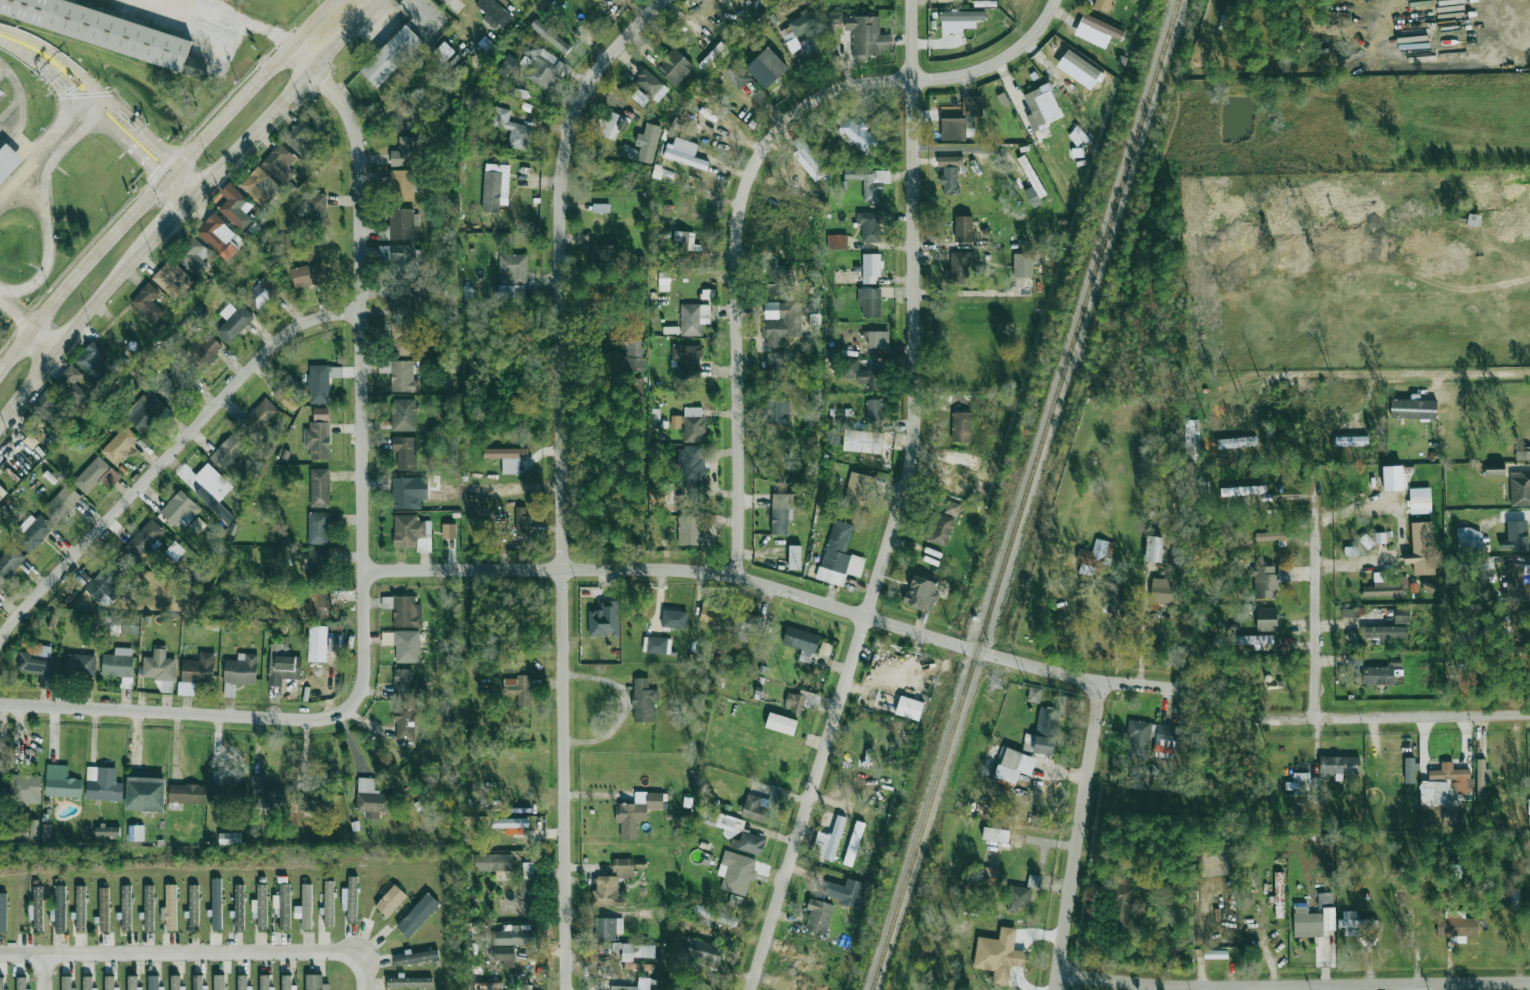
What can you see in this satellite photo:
building: (1103, 5)
building: (453, 9)
building: (492, 13)
building: (835, 17)
road: (231, 19)
building: (960, 20)
building: (804, 25)
building: (1097, 30)
building: (108, 31)
building: (863, 33)
building: (550, 36)
building: (443, 52)
road: (49, 54)
building: (390, 55)
road: (28, 56)
building: (505, 64)
building: (541, 65)
road: (0, 67)
building: (675, 67)
building: (766, 67)
building: (640, 73)
building: (735, 73)
road: (9, 82)
road: (254, 84)
building: (650, 85)
road: (68, 90)
road: (74, 93)
building: (519, 93)
road: (82, 95)
road: (98, 95)
road: (288, 95)
building: (640, 97)
road: (126, 103)
road: (63, 104)
building: (972, 104)
road: (99, 106)
building: (1041, 107)
road: (9, 110)
road: (74, 110)
parking lot: (19, 111)
building: (403, 113)
building: (711, 119)
building: (612, 125)
building: (955, 128)
building: (513, 129)
building: (854, 131)
road: (139, 133)
building: (1078, 137)
road: (34, 139)
building: (300, 139)
building: (647, 142)
building: (407, 152)
building: (685, 153)
traffic signals: (185, 156)
road: (34, 157)
road: (141, 157)
building: (811, 157)
building: (8, 161)
building: (279, 163)
building: (806, 163)
traffic signals: (154, 169)
building: (951, 175)
building: (1031, 176)
road: (187, 179)
building: (874, 183)
building: (401, 185)
building: (495, 186)
building: (260, 187)
road: (750, 187)
road: (6, 190)
road: (195, 197)
building: (235, 206)
road: (46, 208)
building: (315, 210)
traffic signals: (177, 217)
building: (609, 217)
building: (1473, 220)
road: (169, 225)
building: (398, 226)
building: (870, 226)
building: (964, 228)
building: (216, 233)
building: (836, 241)
building: (680, 244)
road: (101, 248)
building: (603, 252)
building: (193, 257)
building: (401, 259)
building: (1027, 265)
building: (962, 267)
building: (871, 268)
building: (512, 269)
building: (308, 275)
building: (173, 279)
building: (664, 281)
building: (788, 284)
road: (967, 292)
building: (261, 294)
building: (147, 301)
building: (405, 301)
building: (870, 302)
road: (15, 314)
building: (814, 318)
building: (691, 320)
building: (234, 323)
building: (778, 324)
road: (73, 329)
building: (403, 339)
building: (872, 339)
road: (41, 342)
road: (15, 349)
building: (206, 351)
building: (636, 355)
building: (776, 358)
building: (92, 360)
building: (685, 360)
road: (364, 367)
road: (1483, 373)
building: (861, 374)
building: (405, 376)
building: (68, 379)
building: (321, 381)
building: (176, 385)
building: (635, 392)
building: (285, 399)
building: (49, 407)
building: (1413, 408)
building: (874, 410)
building: (962, 410)
building: (778, 411)
building: (150, 413)
building: (320, 413)
building: (403, 415)
building: (260, 416)
building: (961, 426)
building: (693, 428)
building: (831, 435)
building: (317, 440)
building: (1192, 440)
building: (1352, 440)
building: (862, 441)
building: (1237, 442)
building: (120, 445)
building: (229, 450)
building: (405, 452)
building: (505, 454)
building: (1522, 455)
road: (167, 458)
building: (692, 465)
building: (1494, 471)
building: (91, 474)
road: (561, 476)
building: (966, 480)
building: (204, 481)
building: (320, 487)
building: (1520, 488)
building: (860, 489)
building: (1243, 490)
building: (2, 492)
building: (406, 494)
railway: (1024, 495)
building: (1420, 500)
building: (62, 503)
road: (904, 506)
building: (180, 509)
building: (782, 513)
building: (197, 524)
building: (523, 524)
building: (943, 524)
building: (318, 528)
building: (448, 530)
building: (691, 530)
building: (411, 532)
building: (33, 534)
building: (1272, 535)
building: (1515, 536)
building: (1380, 537)
building: (144, 538)
building: (478, 538)
building: (1469, 539)
building: (1366, 541)
building: (1154, 548)
building: (1421, 548)
building: (175, 550)
building: (1351, 550)
building: (839, 555)
building: (1095, 556)
building: (794, 557)
building: (9, 562)
building: (318, 566)
building: (1284, 573)
building: (1514, 578)
building: (1264, 580)
building: (106, 583)
road: (779, 586)
road: (1315, 586)
building: (1385, 586)
building: (1414, 587)
building: (1428, 587)
building: (1165, 590)
building: (921, 592)
building: (320, 602)
building: (402, 609)
building: (1353, 611)
building: (712, 612)
building: (1401, 614)
building: (604, 619)
building: (674, 619)
building: (1266, 619)
building: (52, 620)
building: (129, 626)
building: (157, 626)
building: (745, 626)
building: (1384, 632)
building: (1352, 636)
building: (801, 639)
building: (1250, 640)
building: (318, 643)
building: (403, 645)
building: (655, 645)
building: (1356, 664)
building: (79, 665)
building: (158, 665)
building: (117, 666)
building: (283, 666)
building: (39, 667)
building: (241, 670)
building: (197, 671)
building: (1377, 675)
building: (406, 684)
building: (522, 689)
building: (1034, 694)
building: (644, 701)
building: (801, 701)
building: (909, 707)
road: (179, 714)
road: (1395, 716)
building: (405, 721)
building: (781, 723)
building: (1046, 729)
building: (1166, 735)
building: (1138, 739)
building: (1339, 764)
building: (1014, 765)
building: (1410, 770)
road: (1062, 772)
building: (3, 774)
building: (1453, 776)
building: (1481, 779)
building: (1297, 784)
building: (105, 786)
building: (63, 787)
building: (25, 788)
building: (1433, 792)
building: (145, 794)
building: (187, 794)
building: (228, 795)
building: (372, 797)
building: (268, 798)
building: (654, 800)
building: (316, 801)
building: (756, 808)
building: (627, 820)
building: (510, 822)
building: (46, 830)
building: (106, 831)
building: (17, 832)
building: (33, 832)
building: (135, 832)
building: (737, 833)
building: (996, 834)
road: (1075, 835)
building: (835, 837)
building: (230, 838)
building: (853, 843)
building: (1200, 854)
building: (493, 861)
building: (641, 863)
building: (624, 866)
building: (529, 869)
building: (736, 872)
building: (988, 874)
building: (1248, 879)
building: (1033, 881)
building: (526, 888)
building: (607, 892)
building: (852, 893)
building: (1279, 895)
building: (475, 897)
building: (1018, 898)
building: (351, 899)
building: (390, 900)
building: (735, 900)
building: (1325, 900)
building: (328, 903)
building: (216, 904)
building: (282, 905)
building: (148, 906)
building: (239, 906)
building: (506, 906)
building: (126, 907)
building: (170, 907)
building: (193, 907)
building: (260, 907)
building: (305, 907)
building: (1124, 907)
building: (60, 908)
building: (80, 908)
building: (36, 909)
building: (103, 909)
building: (3, 912)
building: (1401, 912)
building: (418, 914)
building: (645, 915)
building: (711, 916)
building: (818, 916)
building: (1355, 922)
building: (1307, 923)
building: (609, 927)
building: (1457, 927)
building: (515, 934)
building: (617, 945)
building: (592, 947)
building: (638, 950)
building: (702, 950)
road: (182, 954)
building: (504, 954)
building: (1215, 954)
building: (999, 955)
building: (416, 956)
building: (640, 966)
road: (42, 972)
road: (365, 972)
building: (66, 982)
building: (87, 982)
building: (109, 982)
building: (131, 982)
building: (153, 982)
building: (175, 982)
building: (197, 982)
building: (219, 982)
building: (241, 982)
building: (264, 982)
building: (315, 982)
building: (409, 982)
building: (1, 983)
building: (21, 983)
building: (287, 983)
building: (488, 985)
road: (1292, 985)
building: (626, 987)
building: (698, 987)
building: (682, 988)

